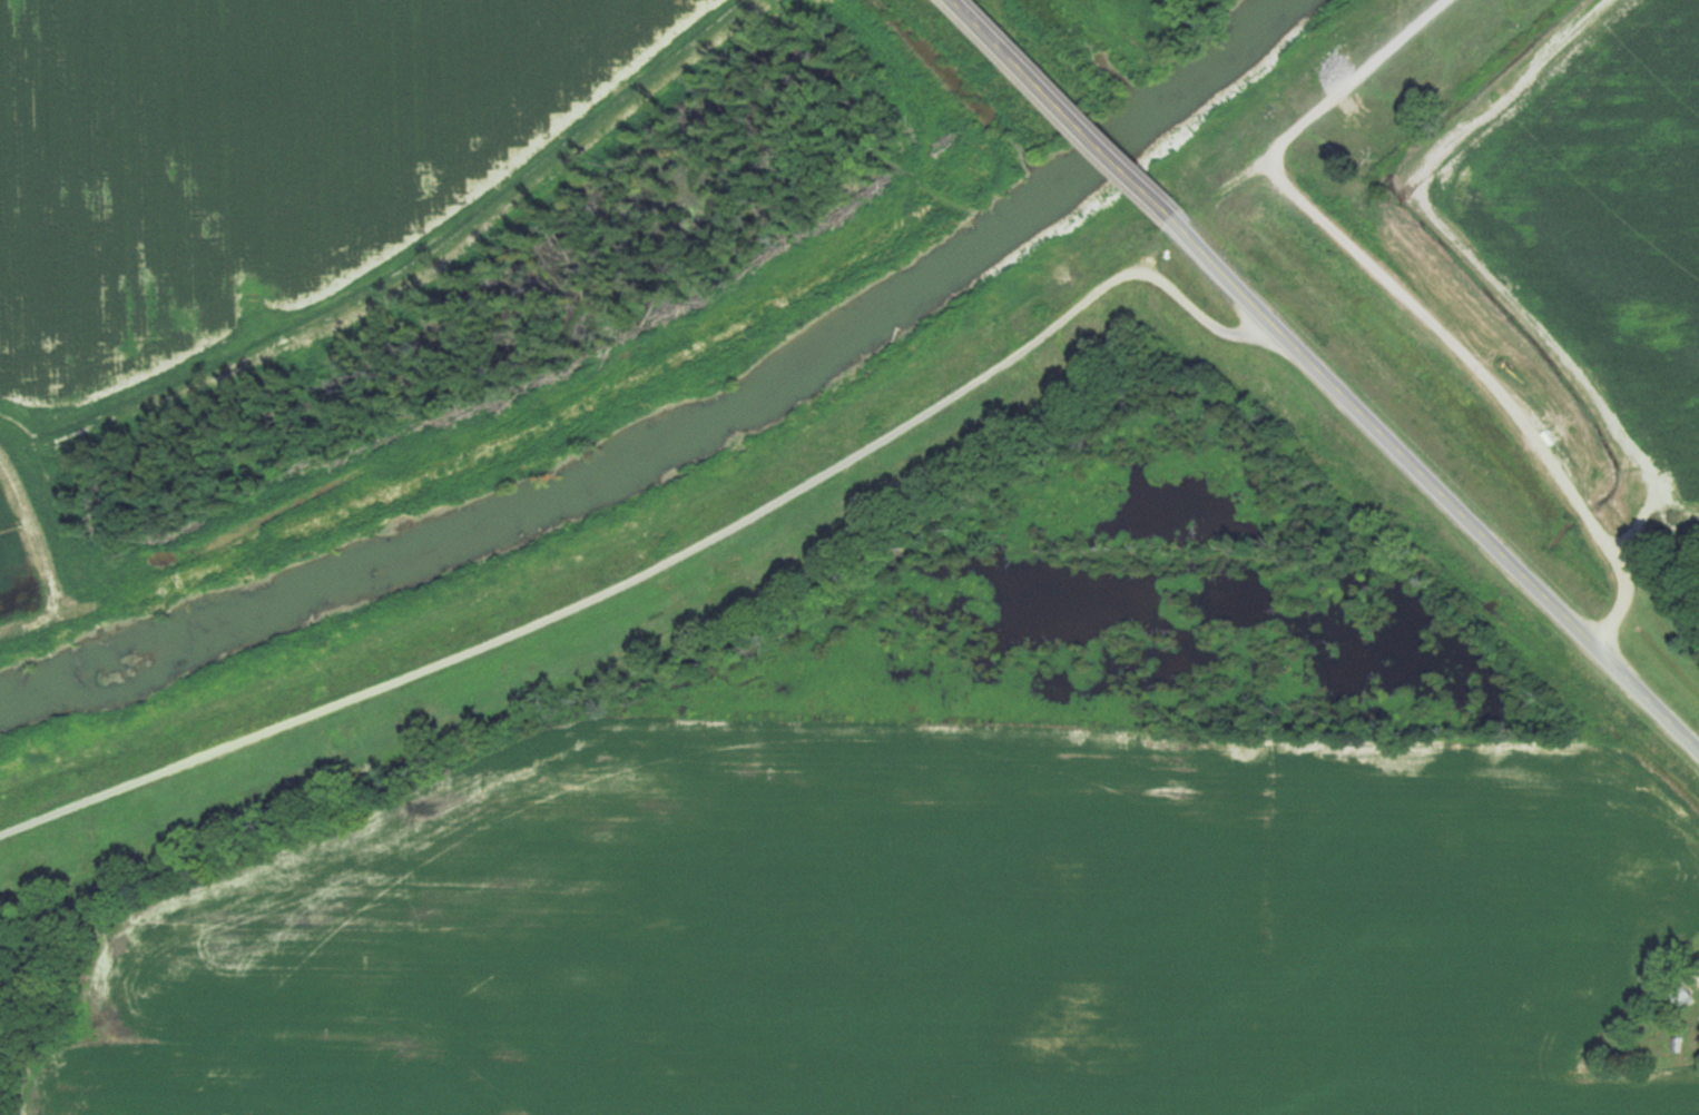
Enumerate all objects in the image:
road: (1065, 106)
road: (1408, 294)
river: (685, 441)
road: (1433, 480)
road: (665, 563)

